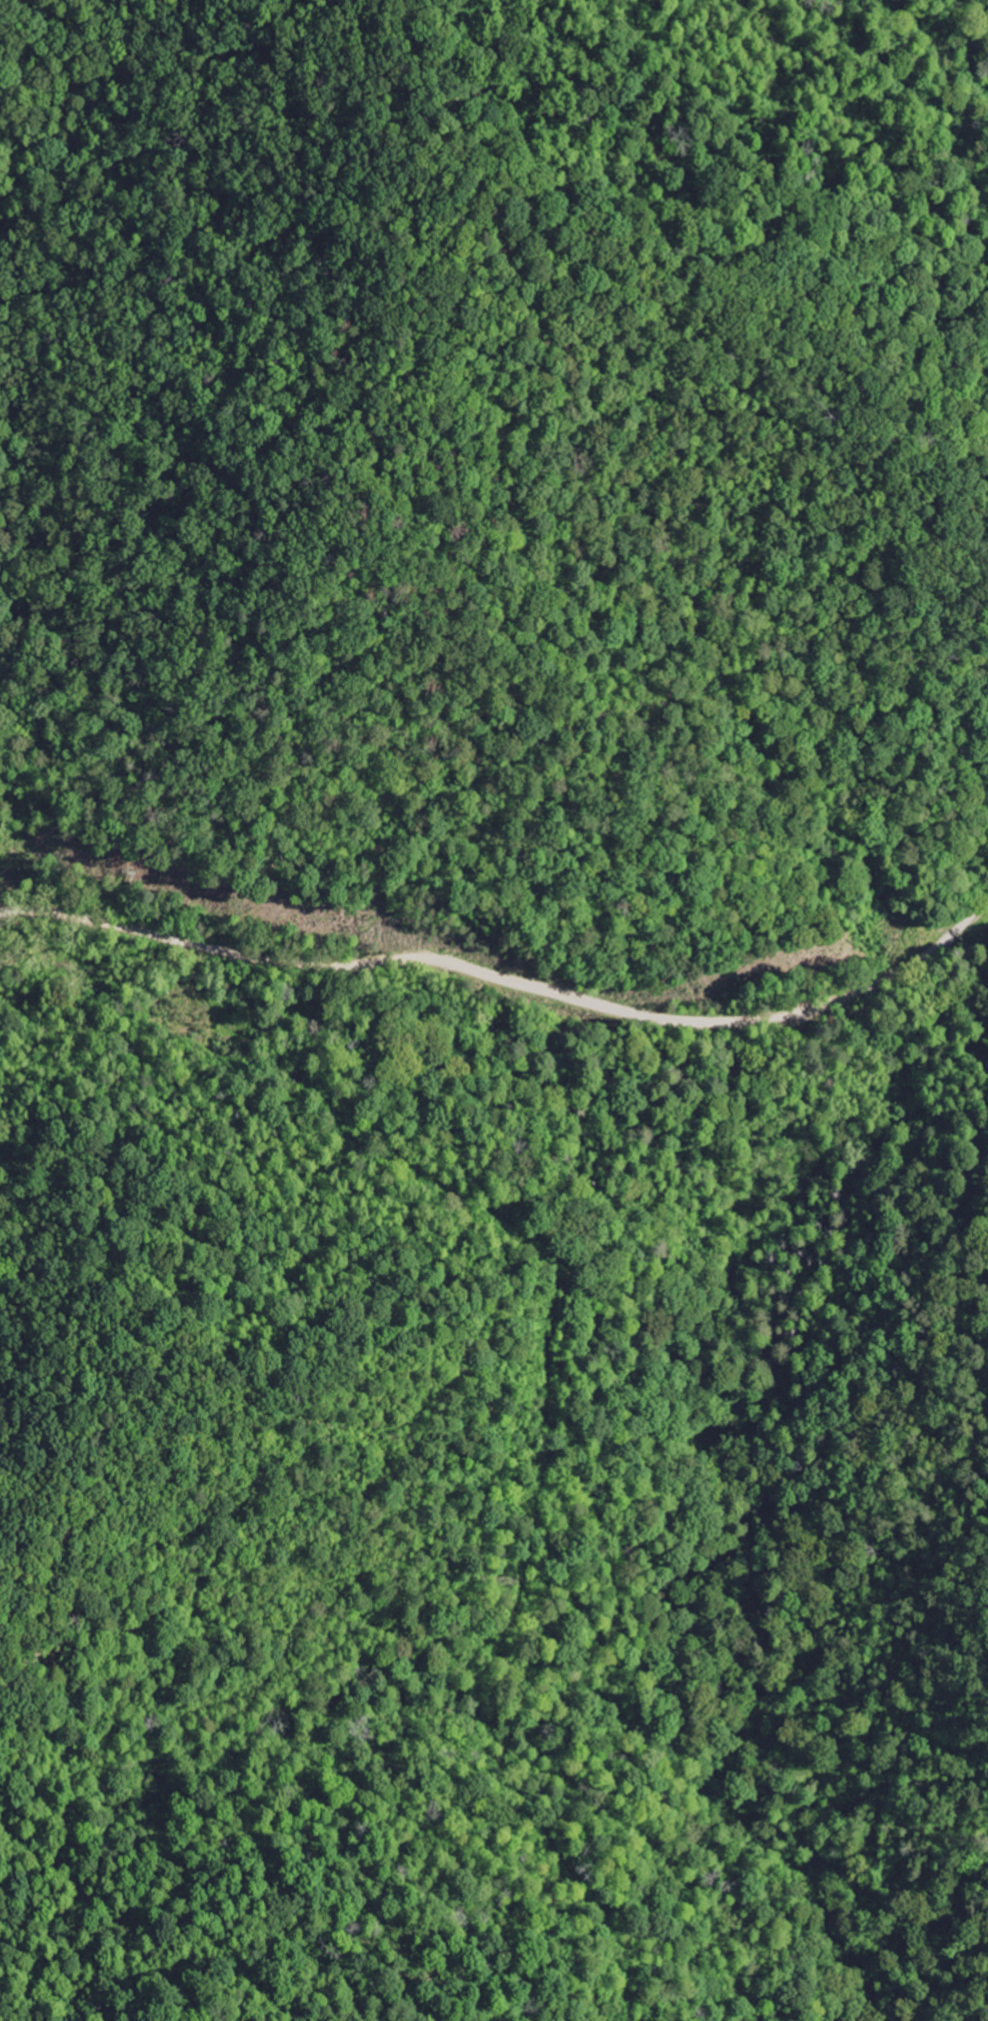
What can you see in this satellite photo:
road: (509, 978)

